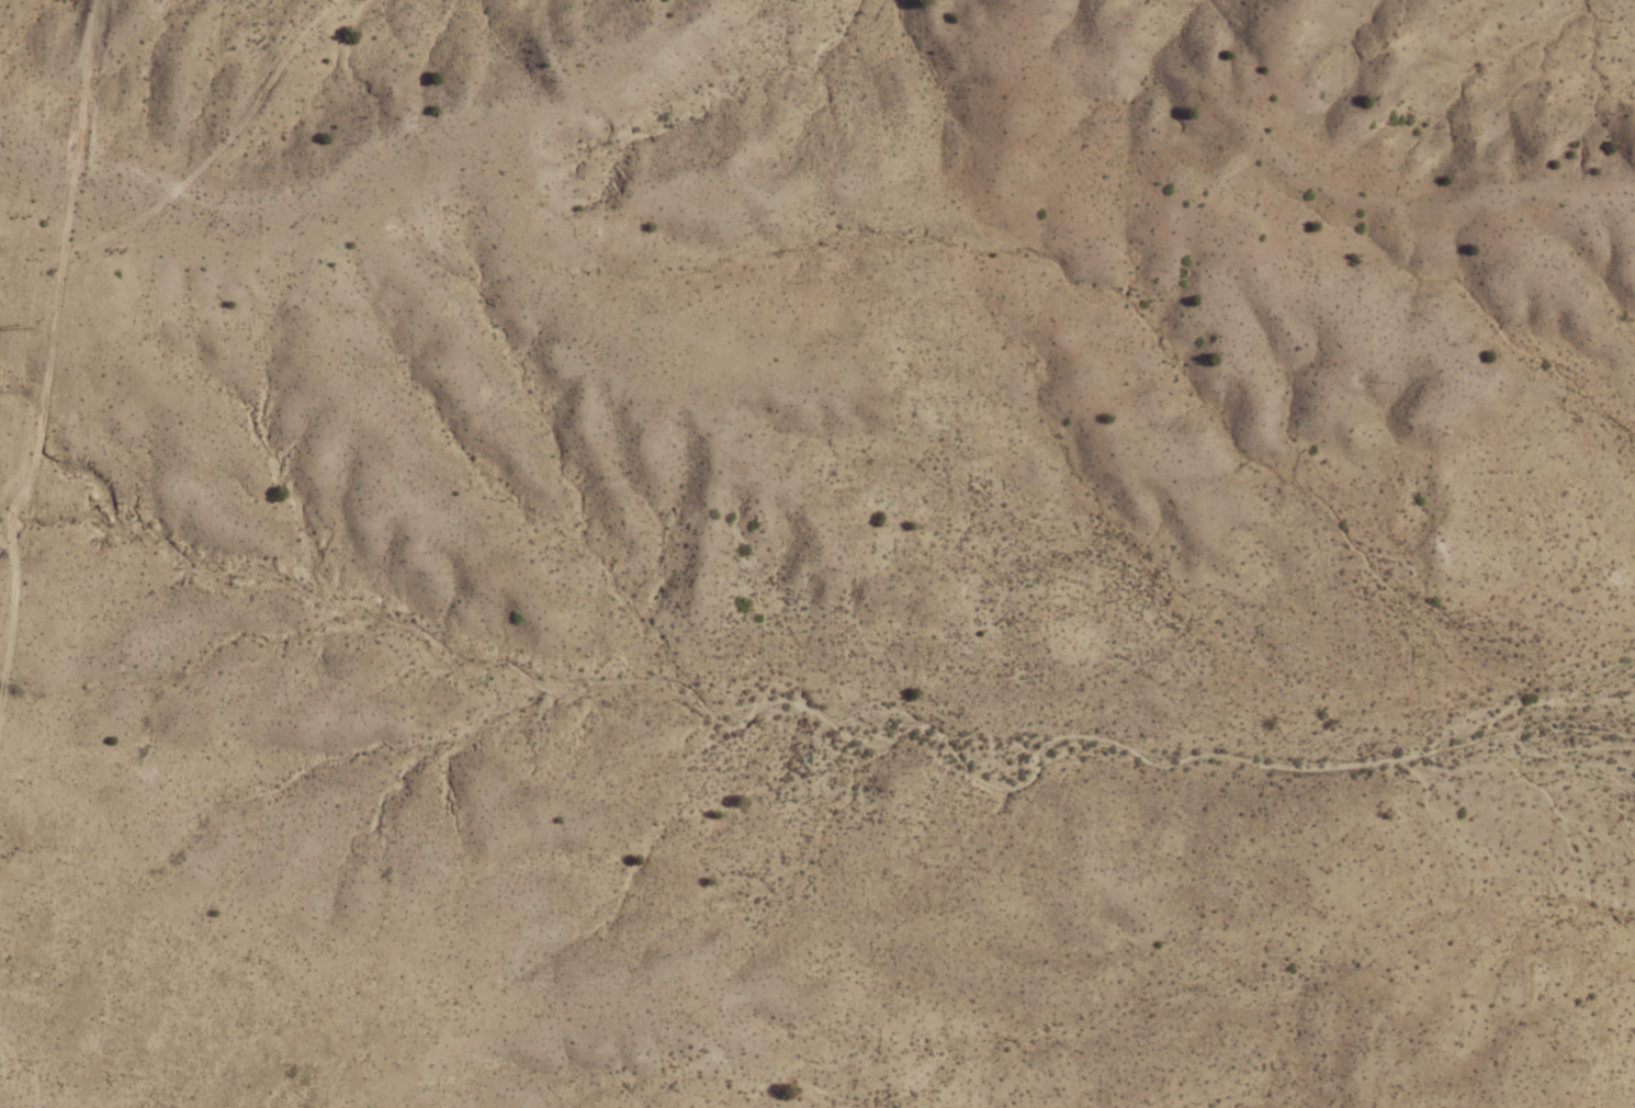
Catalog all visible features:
power tower: (34, 325)

